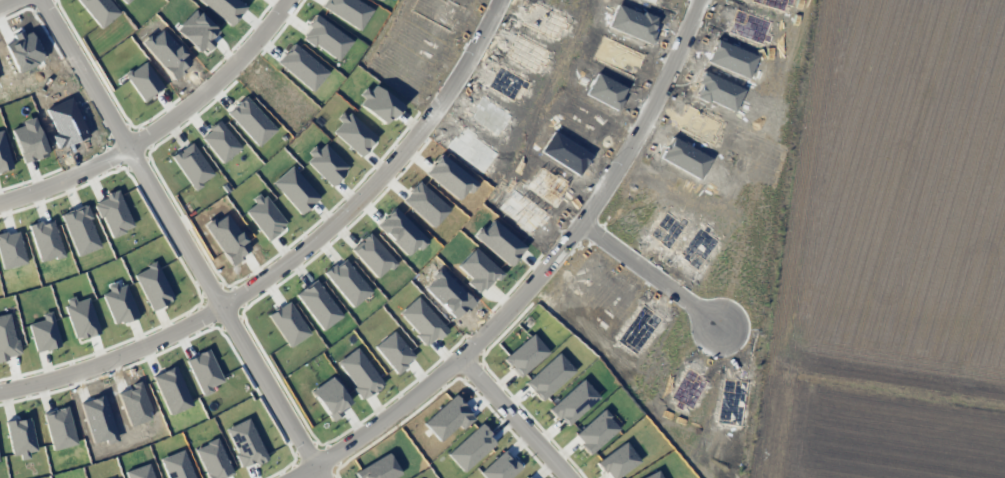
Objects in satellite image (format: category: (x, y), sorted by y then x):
building: (368, 1)
road: (11, 5)
building: (334, 13)
road: (164, 126)
road: (186, 239)
road: (299, 257)
road: (658, 268)
road: (546, 276)
road: (519, 418)
building: (211, 459)
building: (174, 465)

